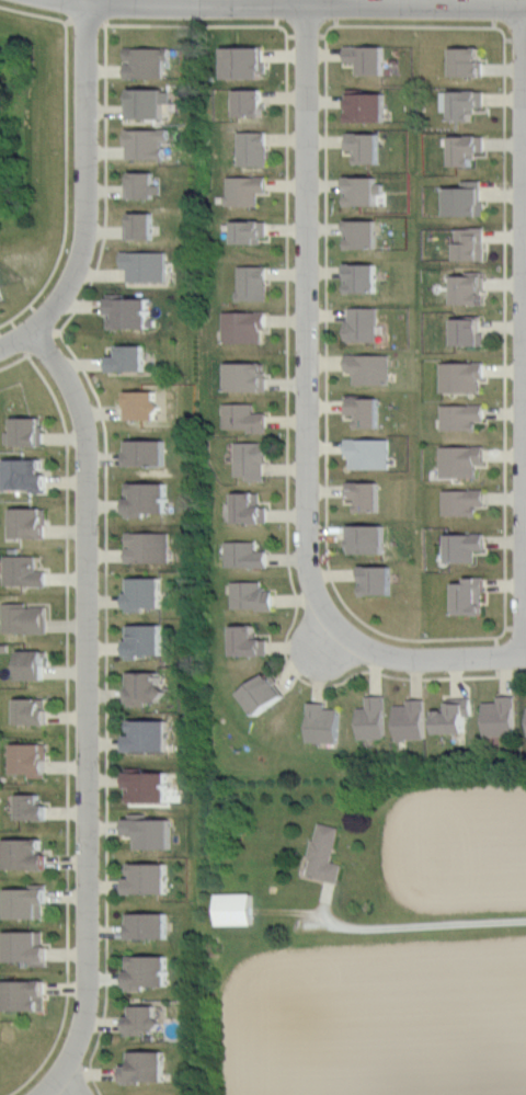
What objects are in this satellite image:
road: (306, 10)
building: (148, 60)
building: (245, 61)
building: (369, 61)
building: (470, 62)
building: (252, 102)
building: (468, 102)
building: (149, 104)
building: (369, 106)
park: (36, 126)
building: (150, 142)
building: (367, 147)
building: (467, 148)
building: (255, 149)
road: (69, 156)
building: (146, 185)
building: (248, 190)
building: (365, 191)
road: (85, 192)
building: (467, 198)
building: (142, 227)
building: (251, 232)
building: (365, 235)
building: (472, 242)
building: (147, 265)
building: (365, 278)
building: (255, 282)
building: (470, 287)
building: (2, 292)
building: (130, 315)
road: (307, 317)
building: (366, 326)
building: (247, 327)
building: (471, 331)
road: (525, 335)
road: (2, 342)
building: (129, 357)
building: (371, 366)
building: (248, 377)
building: (464, 378)
road: (291, 381)
building: (146, 406)
building: (367, 410)
building: (464, 417)
building: (247, 418)
building: (26, 432)
building: (148, 453)
building: (371, 453)
building: (464, 459)
building: (253, 460)
building: (27, 474)
building: (367, 494)
building: (149, 498)
building: (466, 502)
building: (252, 509)
building: (31, 522)
building: (370, 539)
building: (151, 547)
building: (466, 547)
road: (110, 550)
building: (248, 555)
building: (25, 570)
building: (379, 581)
building: (146, 593)
building: (254, 595)
building: (471, 595)
road: (508, 604)
building: (26, 617)
building: (146, 639)
building: (251, 641)
road: (426, 660)
building: (34, 663)
building: (146, 687)
building: (265, 694)
building: (33, 712)
road: (71, 712)
road: (85, 712)
building: (503, 716)
building: (456, 717)
building: (376, 718)
building: (414, 719)
building: (325, 723)
building: (151, 735)
building: (31, 757)
building: (148, 785)
building: (33, 806)
building: (150, 831)
crop: (454, 846)
building: (324, 853)
building: (26, 854)
building: (150, 878)
building: (26, 903)
building: (237, 909)
building: (149, 926)
road: (408, 927)
building: (27, 947)
building: (149, 970)
building: (26, 995)
crop: (374, 1017)
building: (144, 1018)
building: (146, 1067)

